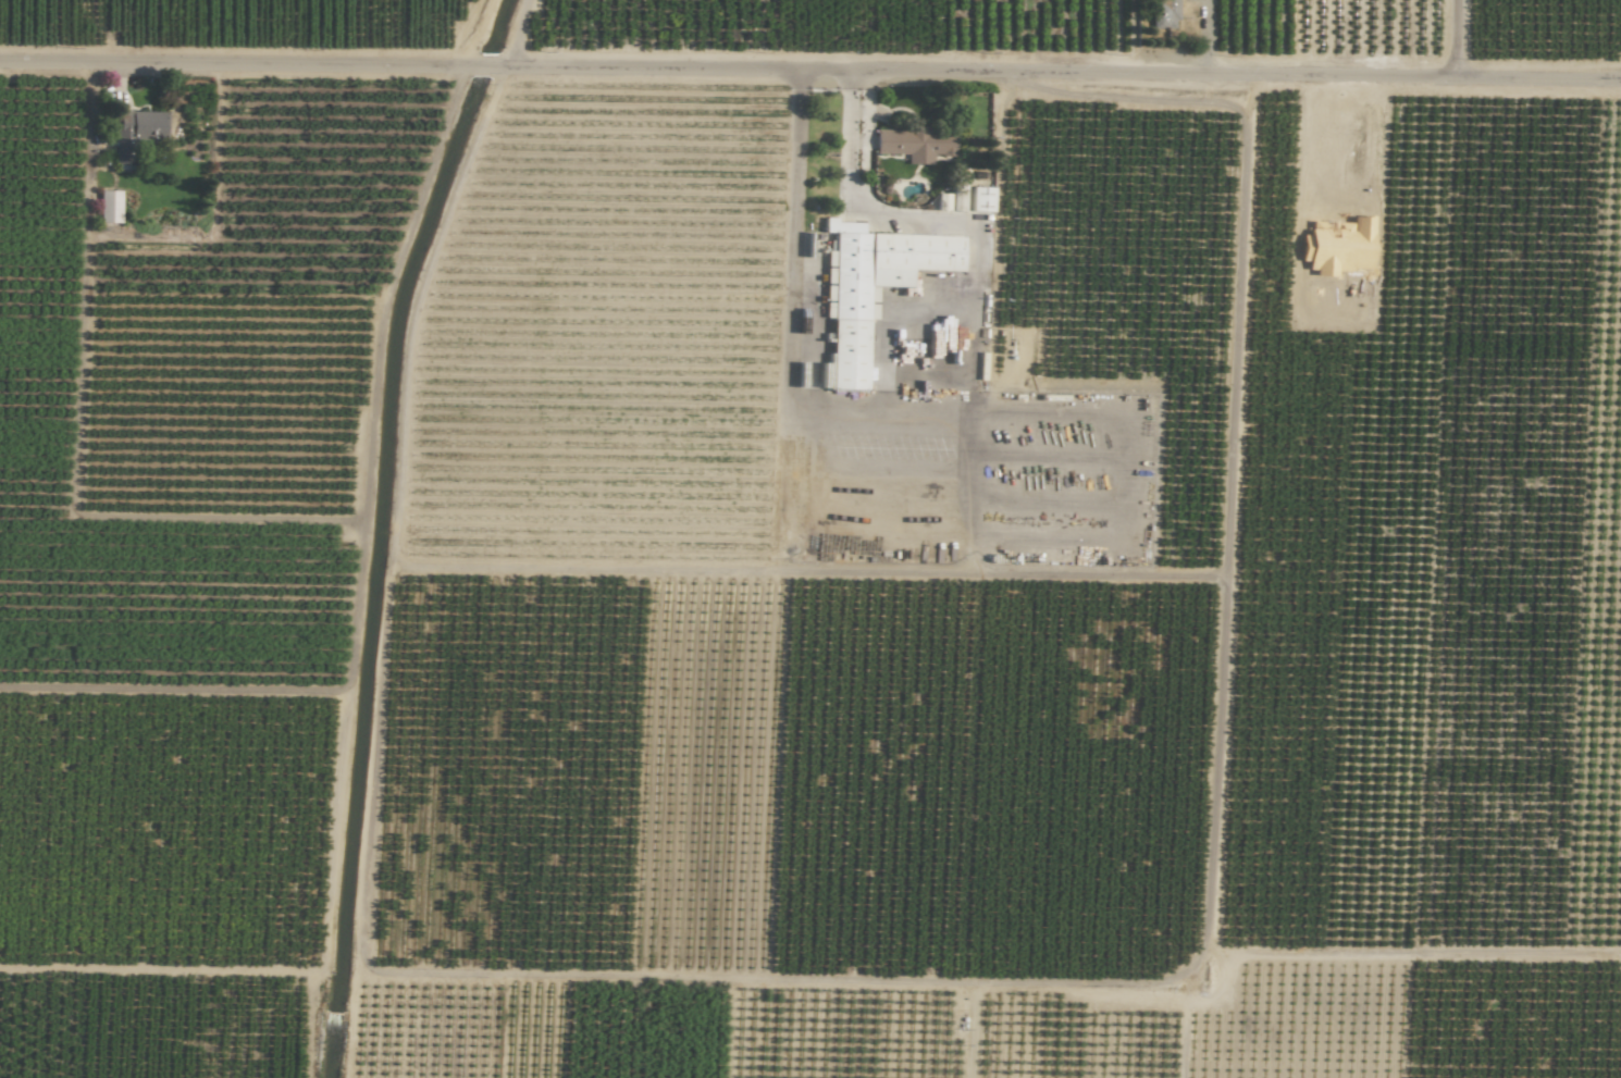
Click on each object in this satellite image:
building: (1165, 12)
road: (1471, 44)
road: (811, 70)
building: (982, 199)
building: (110, 207)
building: (875, 286)
road: (927, 428)
road: (1228, 525)

